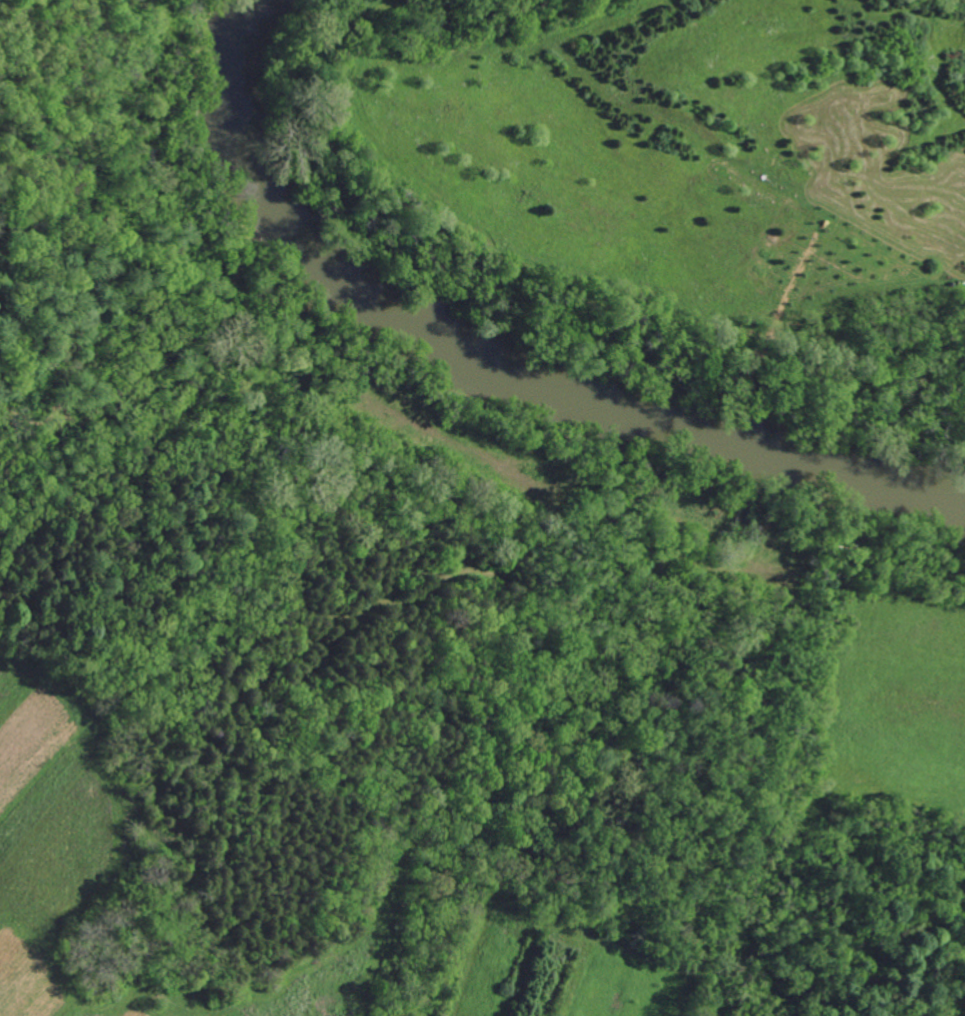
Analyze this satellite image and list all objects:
river: (483, 353)

